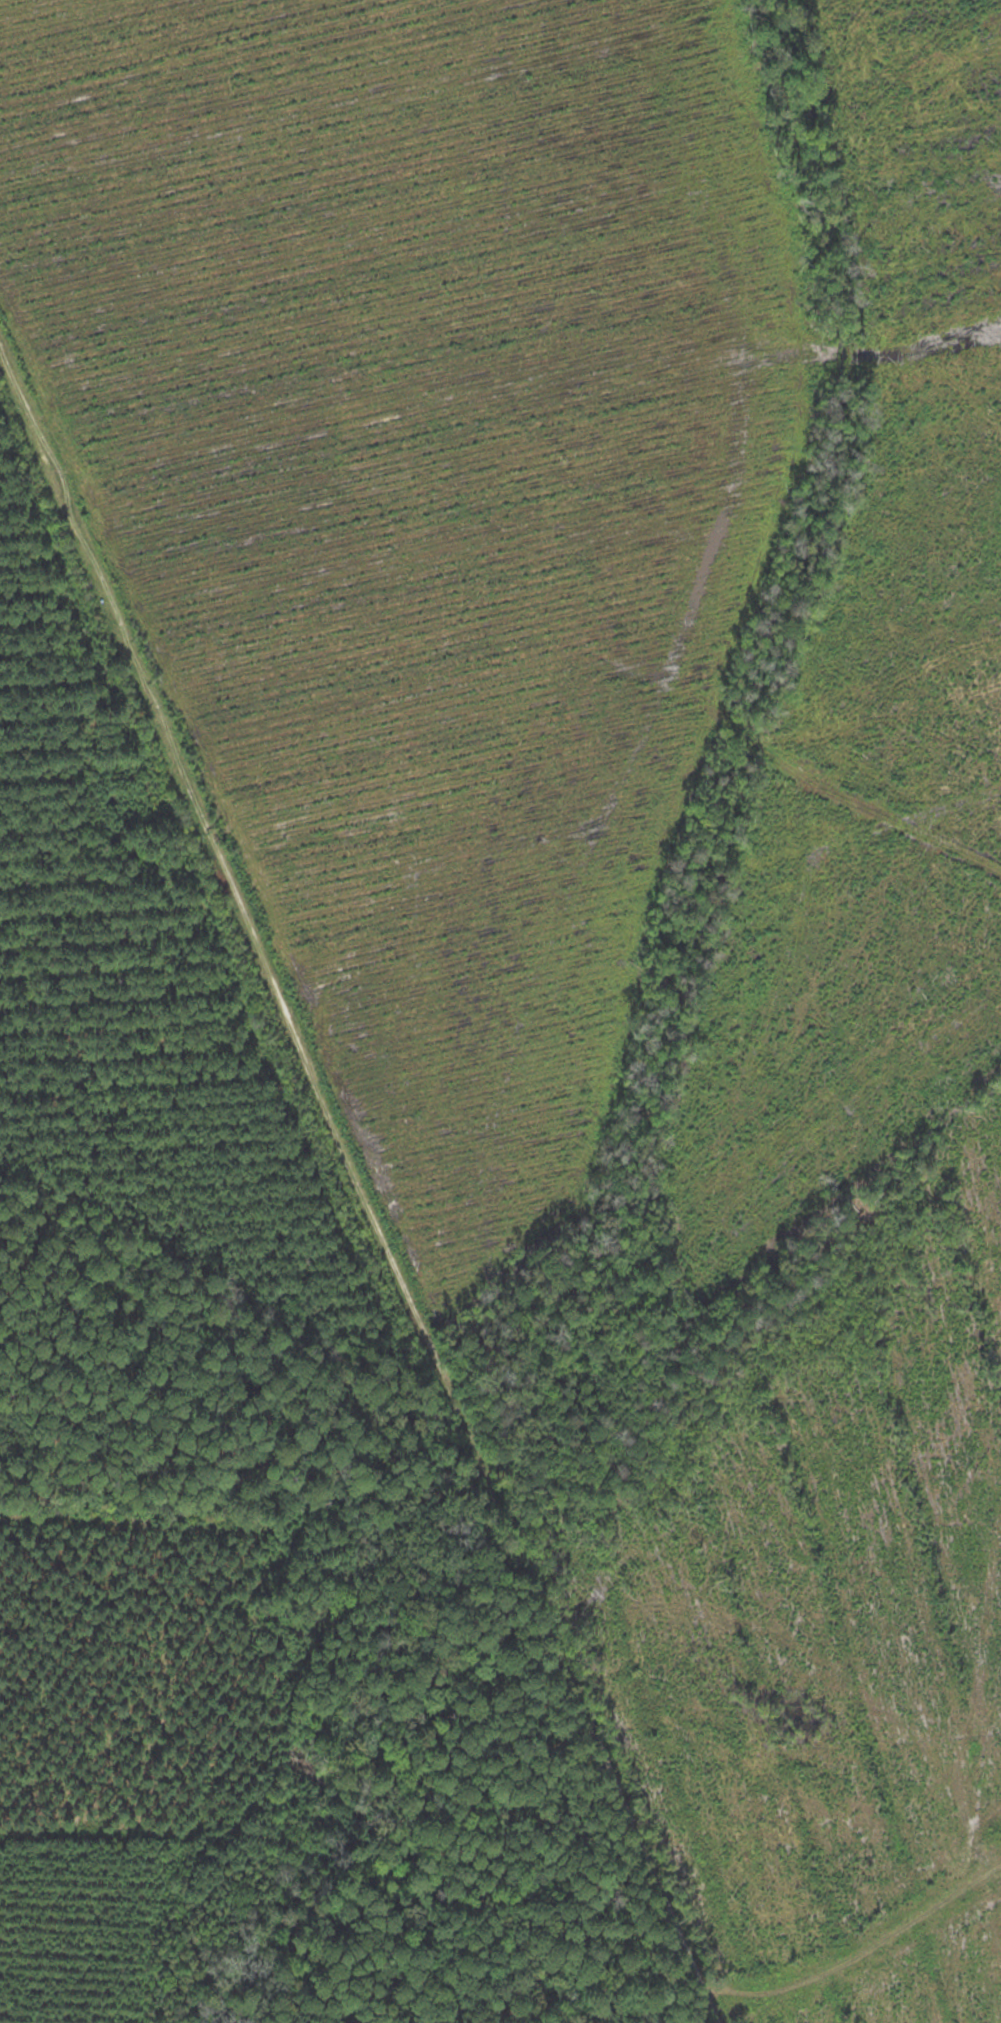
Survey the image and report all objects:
road: (370, 1166)

